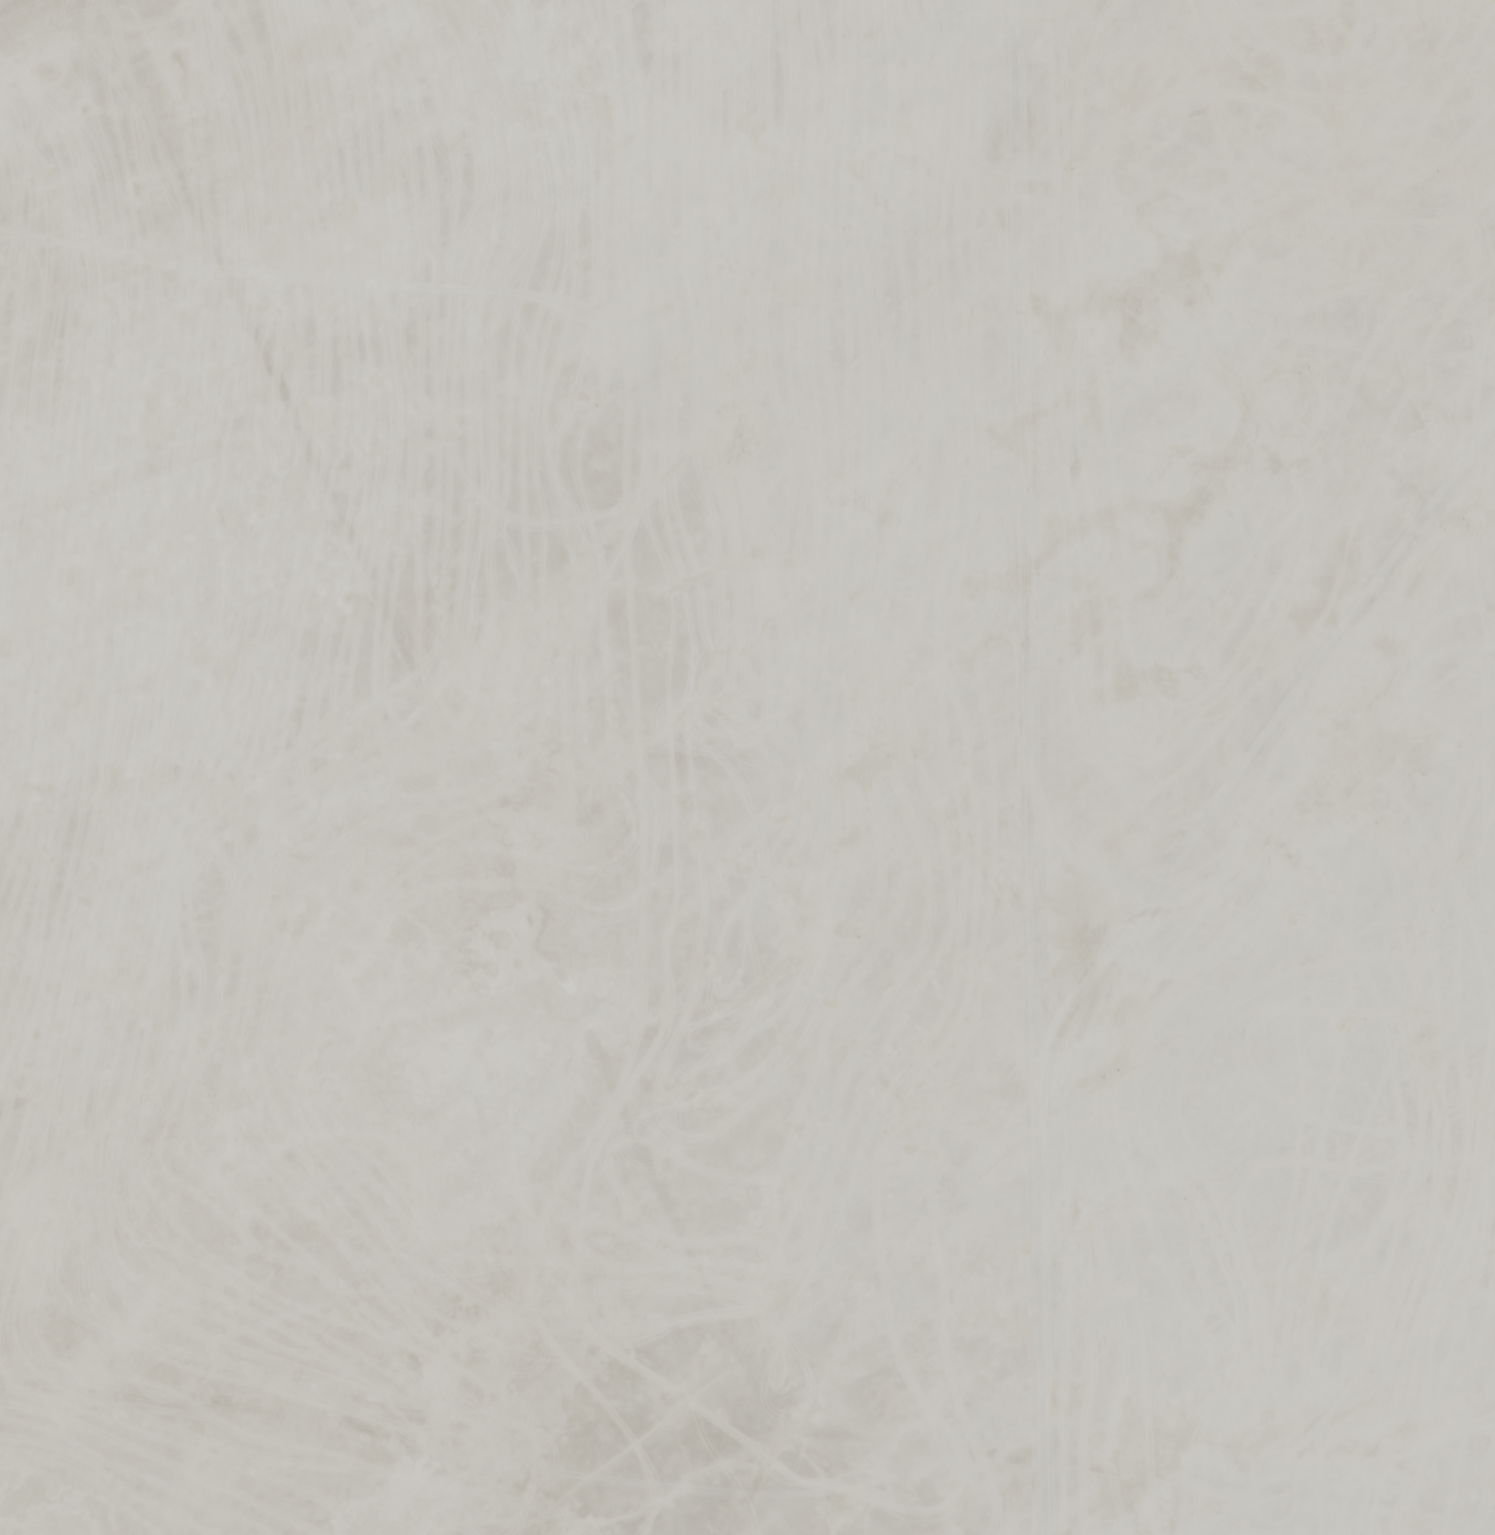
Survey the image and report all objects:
building: (1331, 134)
building: (1271, 188)
building: (616, 369)
building: (57, 442)
building: (27, 764)
road: (1032, 767)
building: (1372, 1123)

